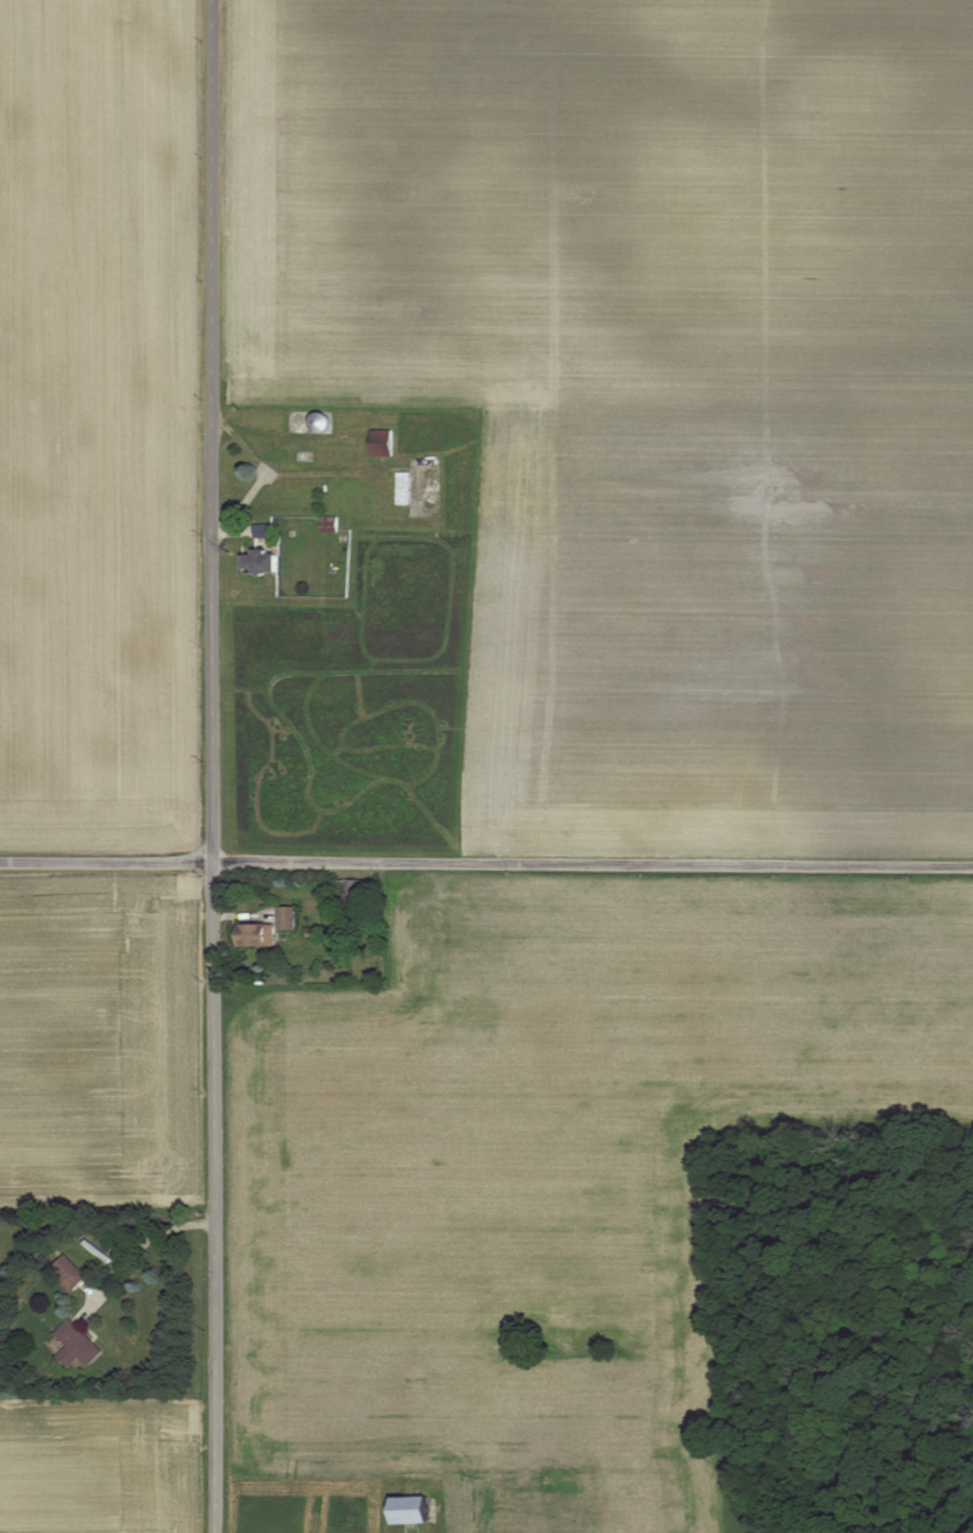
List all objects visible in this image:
building: (300, 420)
building: (321, 421)
building: (381, 442)
building: (403, 487)
building: (263, 562)
road: (211, 766)
road: (486, 864)
building: (350, 891)
building: (286, 918)
building: (253, 935)
road: (151, 1246)
building: (68, 1273)
building: (77, 1344)
building: (413, 1510)

